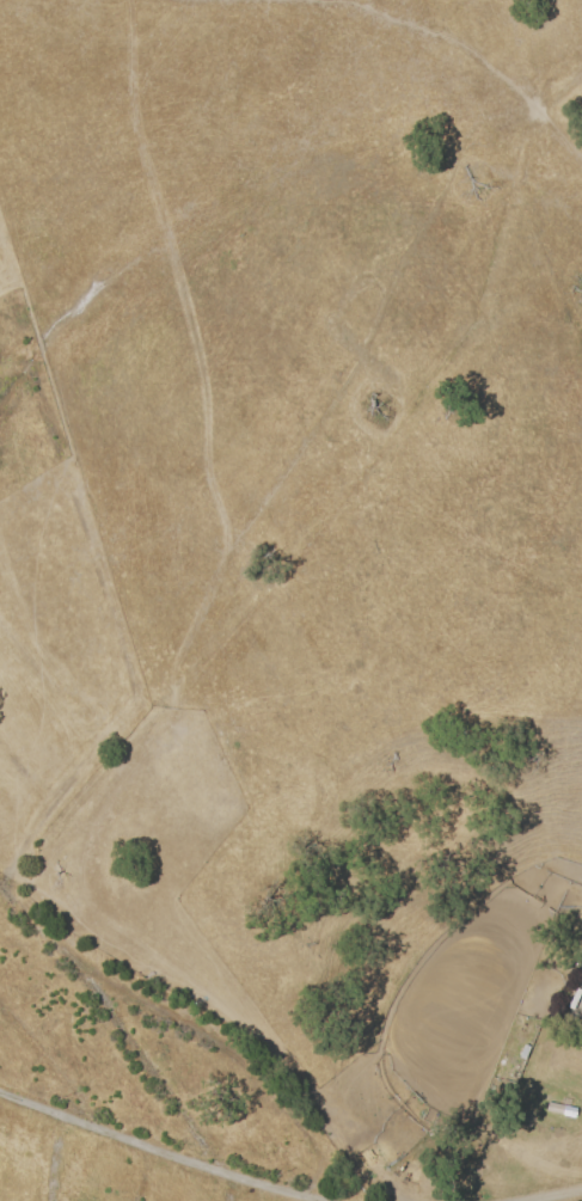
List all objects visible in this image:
building: (556, 1110)
road: (163, 1151)
road: (552, 1196)

